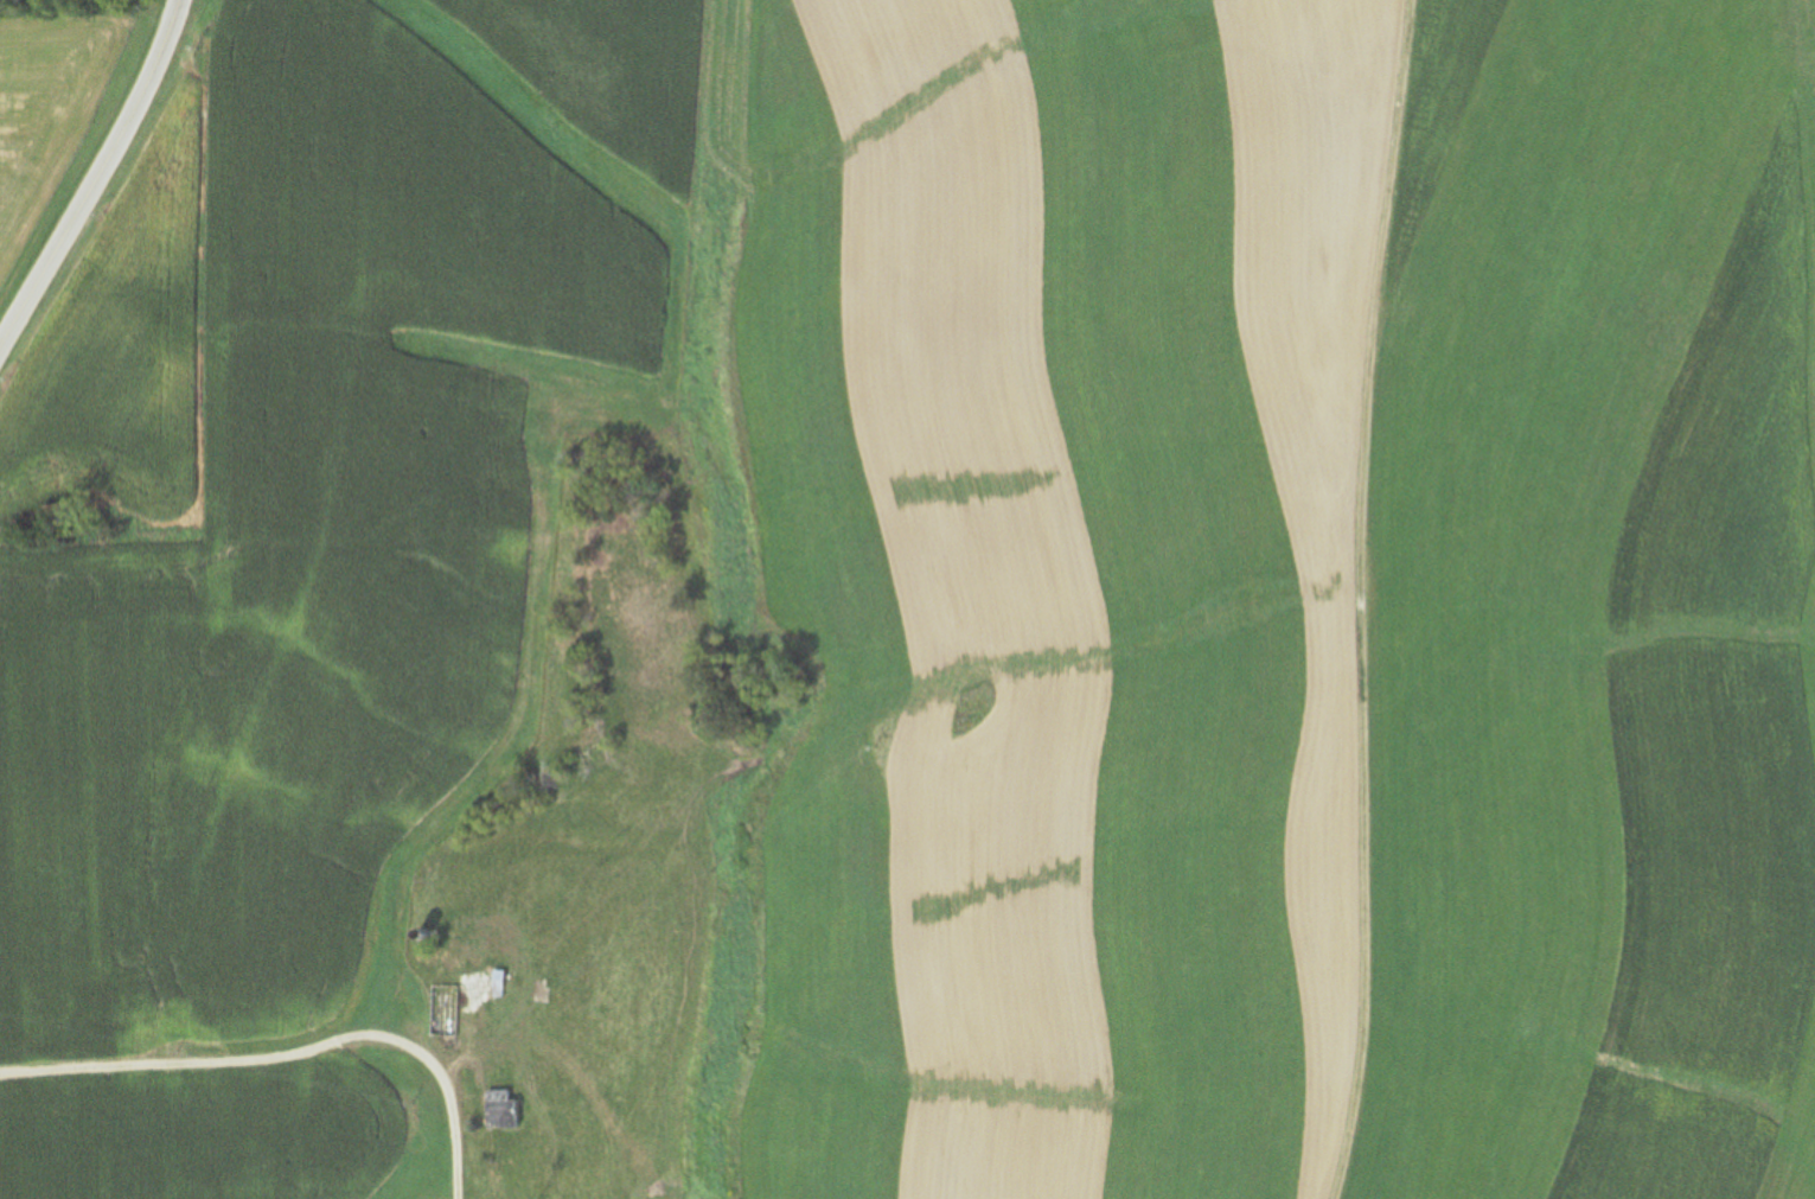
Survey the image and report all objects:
road: (95, 171)
building: (498, 984)
road: (241, 1046)
road: (443, 1104)
building: (499, 1109)

